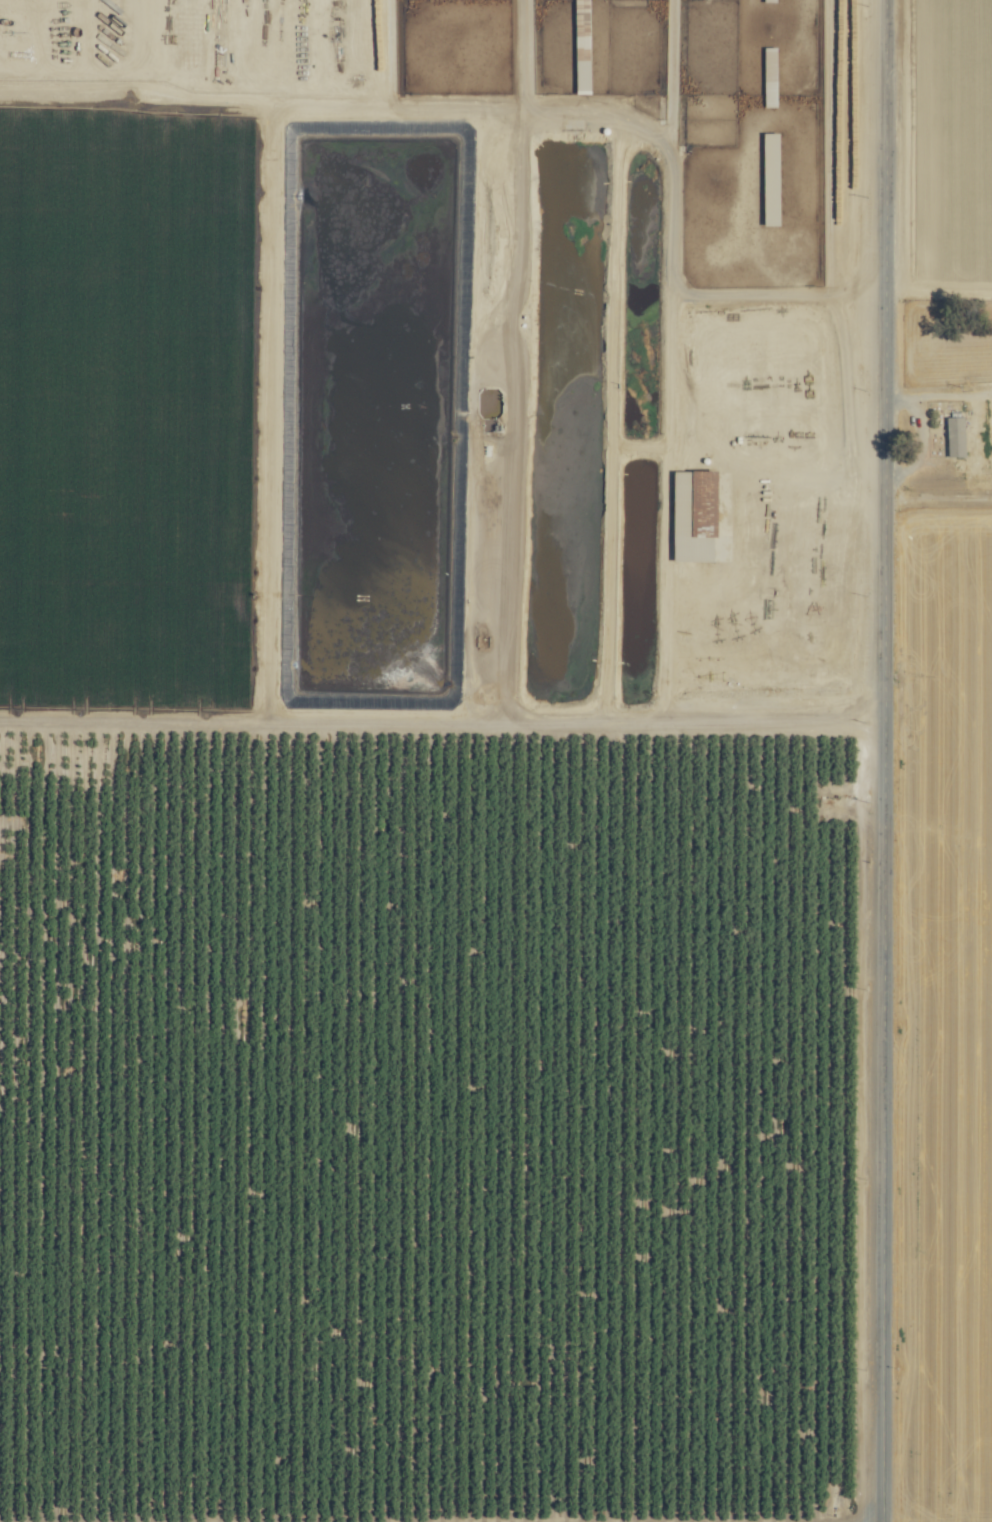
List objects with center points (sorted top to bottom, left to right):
building: (771, 0)
building: (772, 75)
building: (773, 177)
road: (673, 195)
road: (848, 399)
building: (957, 435)
building: (708, 495)
road: (880, 761)

